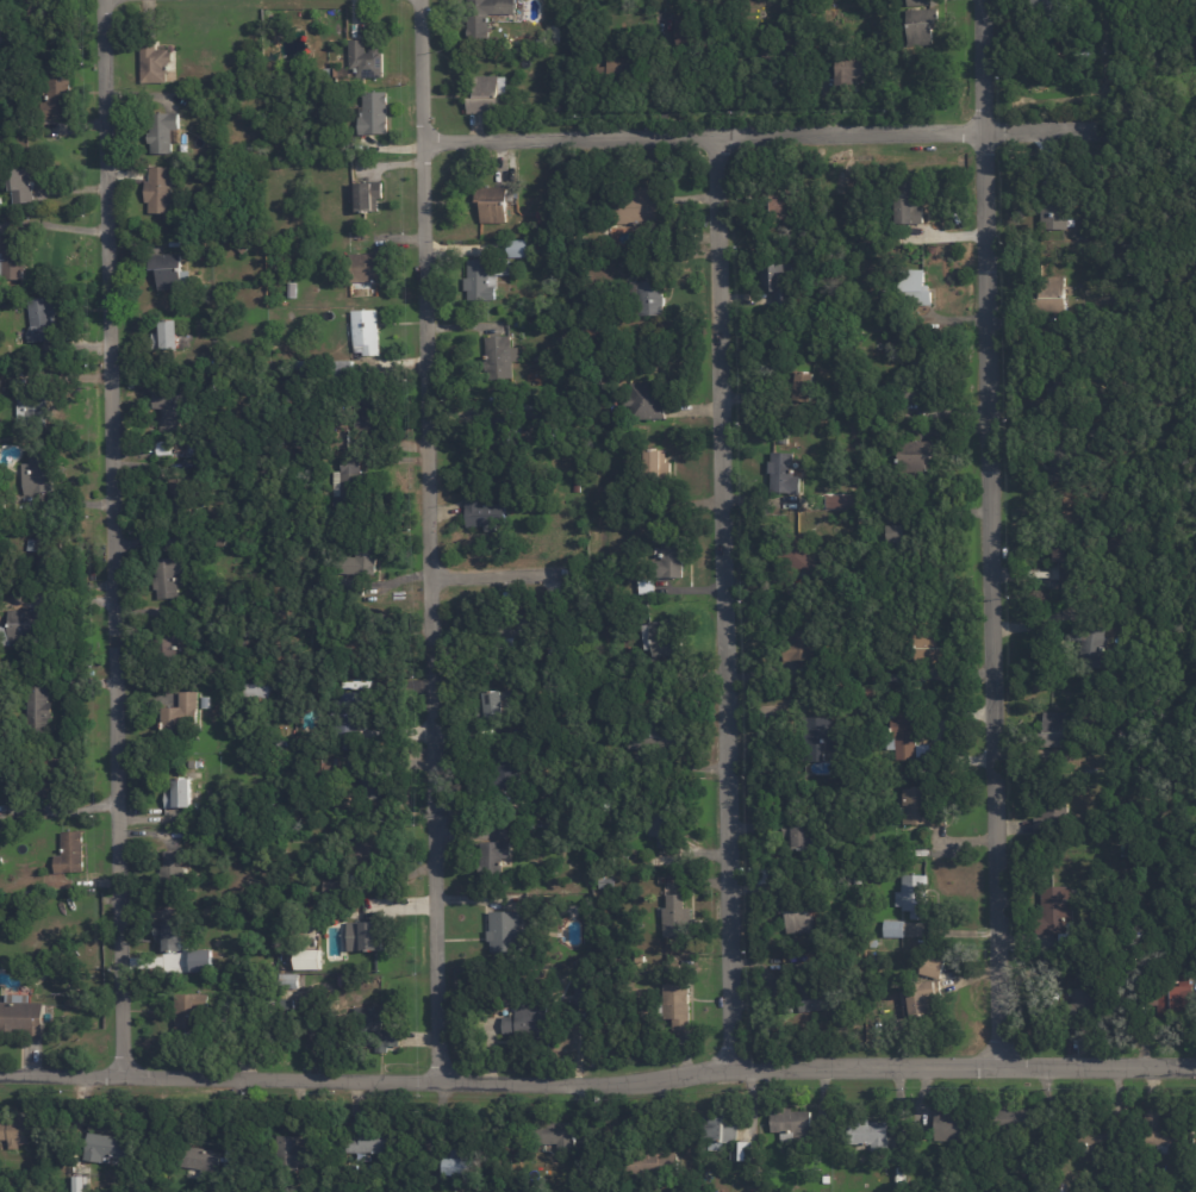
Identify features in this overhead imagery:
building: (1053, 1)
building: (918, 2)
building: (1054, 2)
building: (486, 17)
building: (922, 26)
building: (684, 27)
building: (557, 36)
building: (531, 44)
building: (780, 51)
building: (367, 60)
building: (154, 65)
building: (623, 74)
building: (852, 75)
building: (487, 89)
building: (257, 93)
building: (57, 102)
building: (375, 113)
road: (759, 131)
building: (163, 133)
building: (288, 155)
building: (280, 170)
building: (20, 186)
building: (160, 192)
building: (369, 195)
building: (1053, 198)
building: (910, 202)
building: (493, 204)
building: (640, 206)
building: (784, 206)
building: (1052, 213)
building: (1071, 216)
building: (554, 218)
building: (1079, 236)
building: (687, 238)
building: (867, 242)
building: (243, 246)
building: (518, 248)
building: (547, 250)
building: (6, 256)
building: (369, 268)
building: (172, 275)
building: (481, 279)
building: (780, 282)
building: (916, 283)
building: (653, 293)
building: (1054, 294)
building: (897, 318)
building: (42, 322)
building: (565, 327)
building: (366, 332)
building: (164, 337)
building: (499, 357)
building: (323, 370)
building: (920, 381)
building: (806, 383)
building: (1065, 388)
building: (646, 400)
building: (31, 410)
building: (369, 411)
building: (548, 411)
building: (167, 412)
building: (507, 425)
building: (552, 433)
building: (780, 435)
building: (1097, 435)
building: (337, 439)
building: (175, 450)
building: (916, 456)
building: (1059, 461)
building: (658, 464)
building: (33, 474)
building: (784, 474)
building: (349, 486)
building: (577, 487)
building: (177, 494)
building: (839, 500)
building: (485, 513)
building: (862, 516)
road: (989, 530)
road: (111, 536)
building: (898, 536)
road: (429, 538)
building: (219, 545)
building: (48, 547)
building: (363, 556)
building: (804, 557)
building: (672, 558)
building: (1067, 560)
road: (504, 569)
building: (166, 578)
building: (353, 583)
building: (644, 587)
building: (1133, 591)
building: (895, 592)
road: (723, 597)
building: (201, 598)
building: (654, 606)
building: (642, 612)
building: (519, 628)
building: (21, 629)
building: (502, 629)
building: (655, 631)
building: (168, 639)
building: (803, 644)
building: (1092, 644)
building: (559, 645)
building: (933, 649)
building: (879, 679)
building: (895, 679)
building: (256, 695)
building: (350, 697)
building: (284, 703)
building: (206, 704)
building: (491, 707)
building: (38, 710)
building: (180, 716)
building: (350, 718)
building: (1058, 730)
building: (905, 734)
building: (656, 736)
building: (818, 738)
building: (282, 744)
building: (285, 759)
building: (191, 768)
building: (505, 770)
building: (56, 778)
building: (375, 788)
building: (179, 795)
building: (922, 810)
building: (1057, 825)
building: (527, 826)
building: (665, 828)
building: (801, 835)
building: (362, 848)
building: (1127, 850)
building: (493, 853)
building: (67, 863)
building: (341, 863)
building: (170, 868)
building: (859, 878)
building: (1123, 879)
building: (803, 880)
building: (611, 884)
building: (334, 886)
building: (915, 897)
building: (1058, 912)
building: (678, 918)
building: (801, 923)
building: (896, 930)
building: (506, 932)
building: (360, 935)
building: (374, 935)
building: (167, 941)
building: (1084, 941)
building: (874, 943)
building: (309, 961)
building: (876, 961)
building: (933, 966)
building: (201, 969)
building: (289, 978)
building: (289, 987)
building: (586, 994)
building: (814, 997)
building: (1177, 999)
building: (918, 1001)
building: (1089, 1003)
building: (679, 1009)
building: (192, 1013)
building: (376, 1015)
building: (20, 1018)
building: (529, 1021)
building: (393, 1034)
road: (598, 1078)
building: (1016, 1117)
building: (791, 1122)
building: (952, 1124)
building: (1169, 1129)
building: (721, 1130)
building: (18, 1132)
building: (556, 1134)
building: (874, 1134)
building: (1098, 1137)
building: (368, 1140)
building: (293, 1147)
building: (747, 1150)
building: (104, 1152)
building: (195, 1160)
building: (451, 1161)
building: (653, 1163)
building: (77, 1184)

